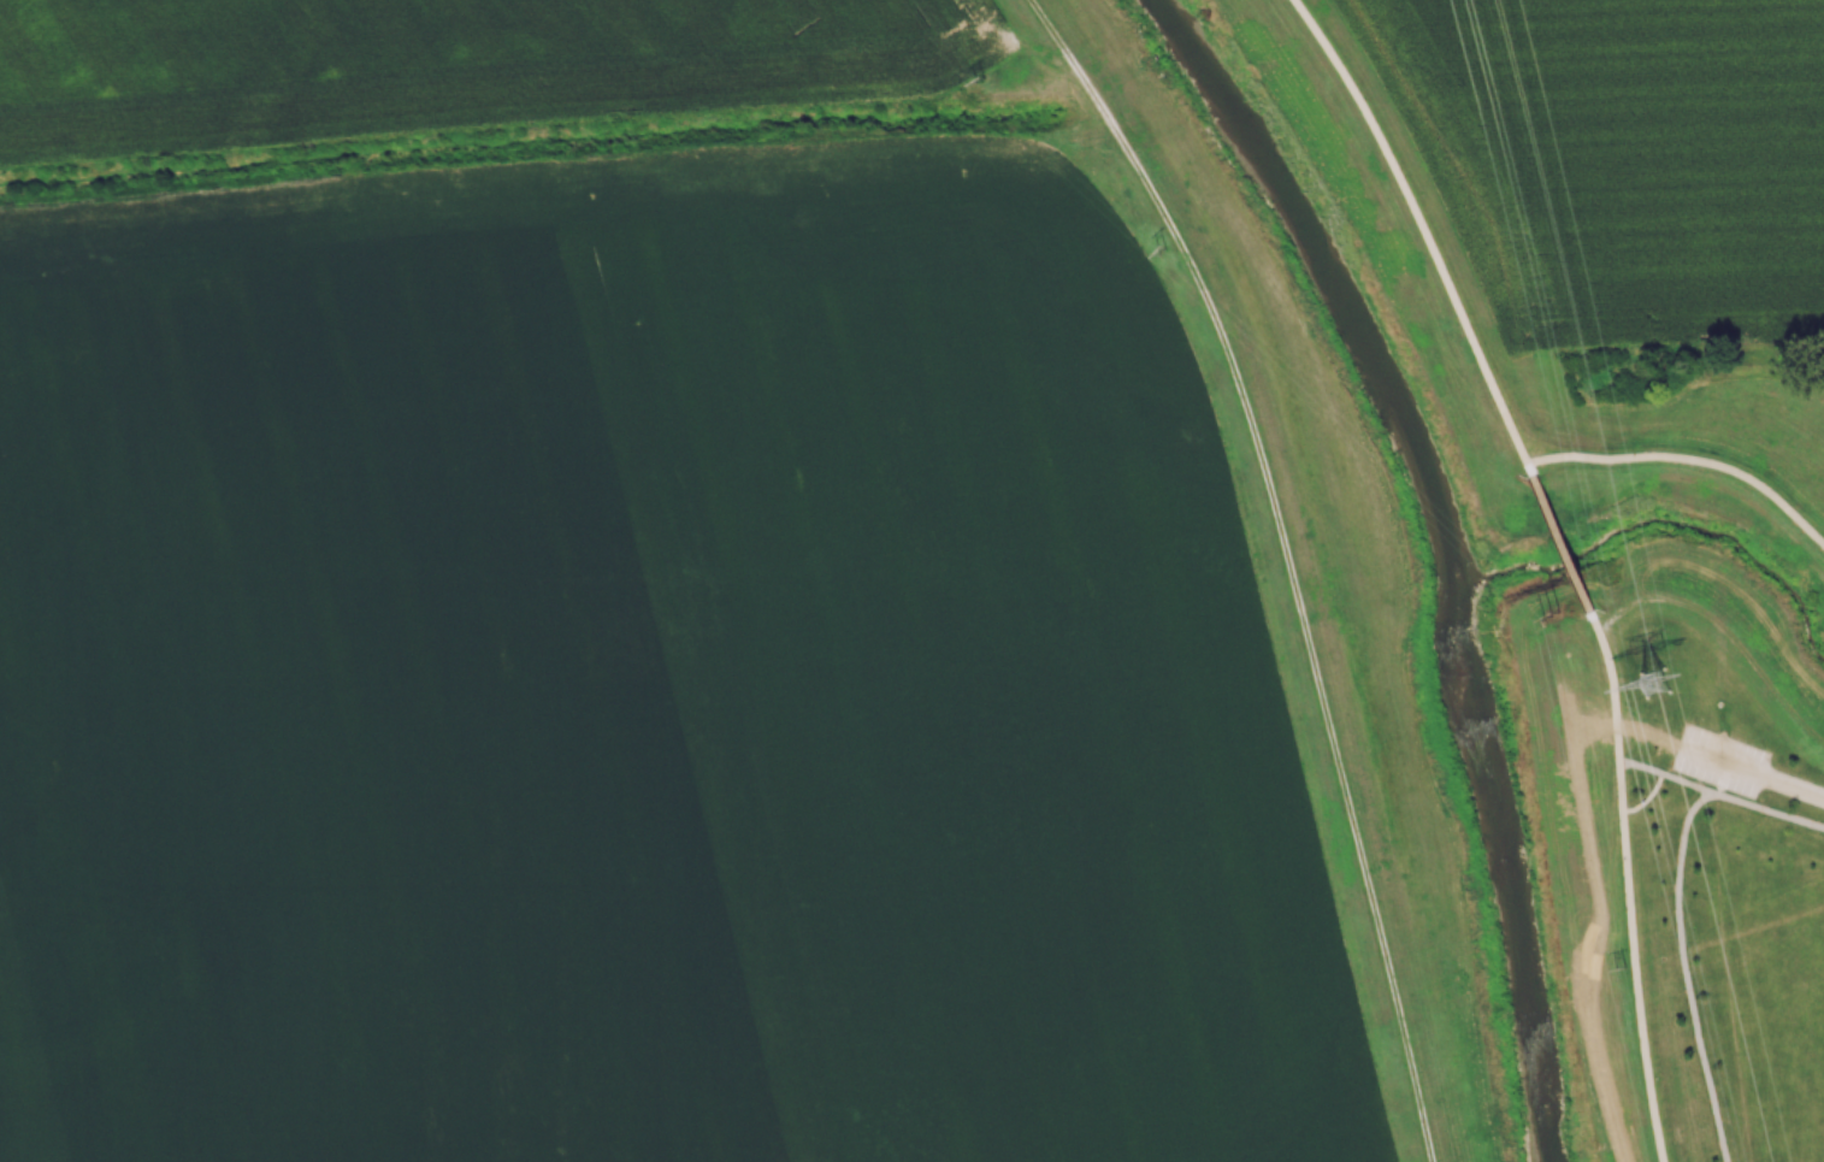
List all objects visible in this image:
power tower: (980, 78)
crop: (1615, 158)
road: (1427, 231)
power tower: (1157, 253)
river: (1332, 284)
road: (1690, 458)
park: (1657, 491)
road: (1564, 542)
power tower: (1551, 611)
power tower: (1655, 678)
parking lot: (1720, 760)
road: (1755, 772)
road: (1722, 794)
river: (1516, 880)
road: (1631, 884)
park: (1707, 901)
power tower: (1621, 968)
road: (1684, 973)

